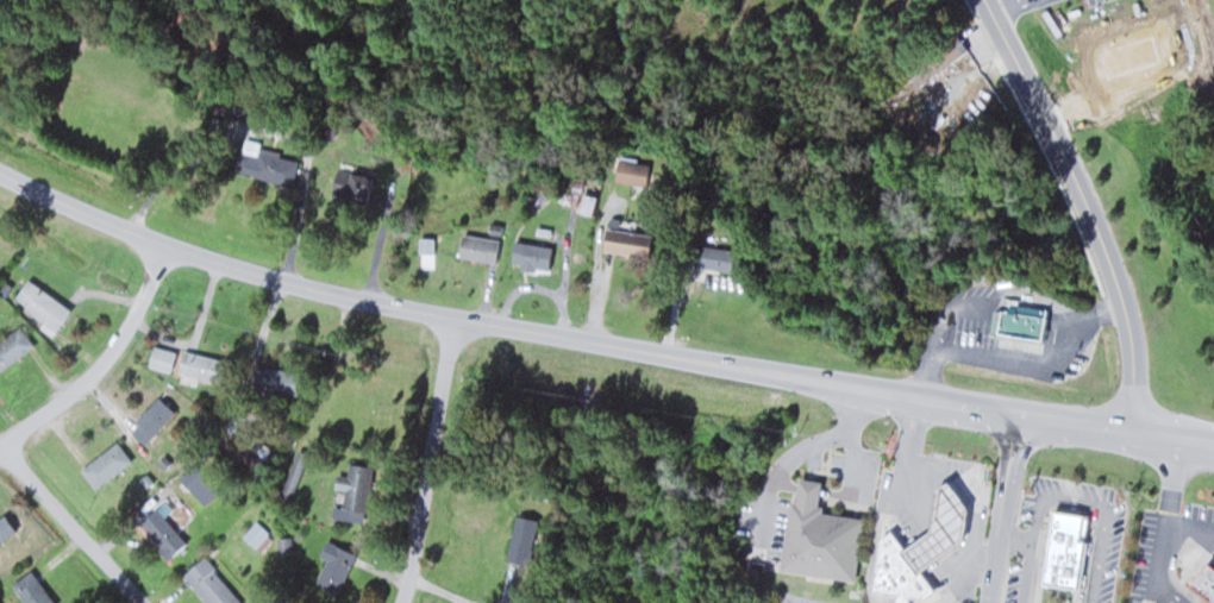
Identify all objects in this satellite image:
road: (993, 1)
building: (934, 57)
building: (267, 164)
building: (631, 171)
building: (350, 186)
road: (1087, 207)
building: (627, 241)
building: (478, 247)
building: (40, 303)
building: (1020, 322)
road: (597, 341)
building: (13, 346)
building: (161, 357)
road: (102, 362)
building: (201, 366)
building: (275, 381)
building: (151, 420)
road: (431, 461)
building: (105, 464)
building: (295, 472)
building: (353, 488)
road: (1002, 508)
road: (73, 523)
building: (943, 529)
building: (161, 532)
building: (813, 534)
building: (520, 539)
building: (1075, 564)
building: (334, 565)
building: (899, 572)
building: (209, 583)
building: (1203, 583)
building: (31, 589)

